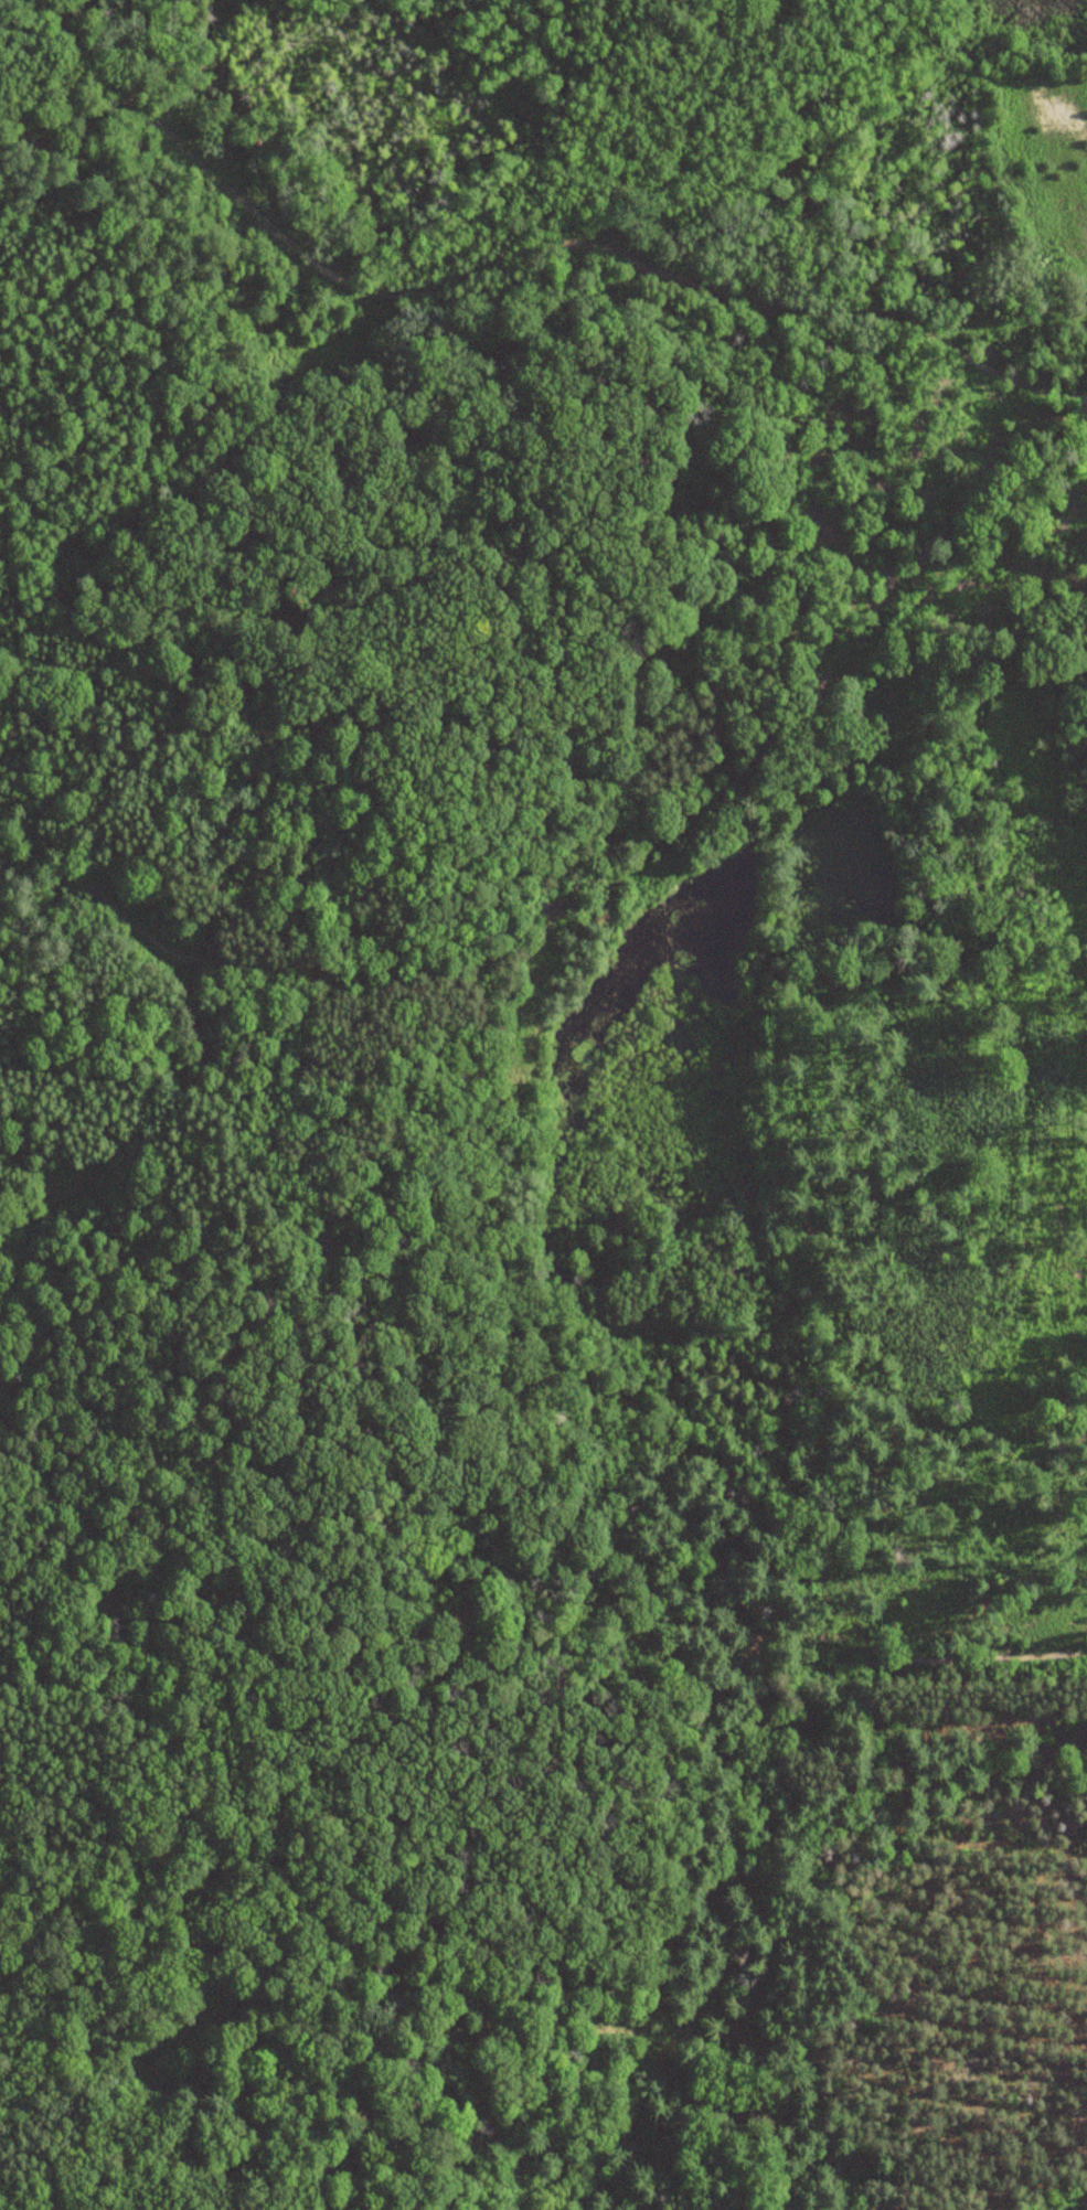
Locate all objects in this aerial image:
road: (513, 255)
road: (770, 732)
road: (185, 955)
road: (929, 1659)

